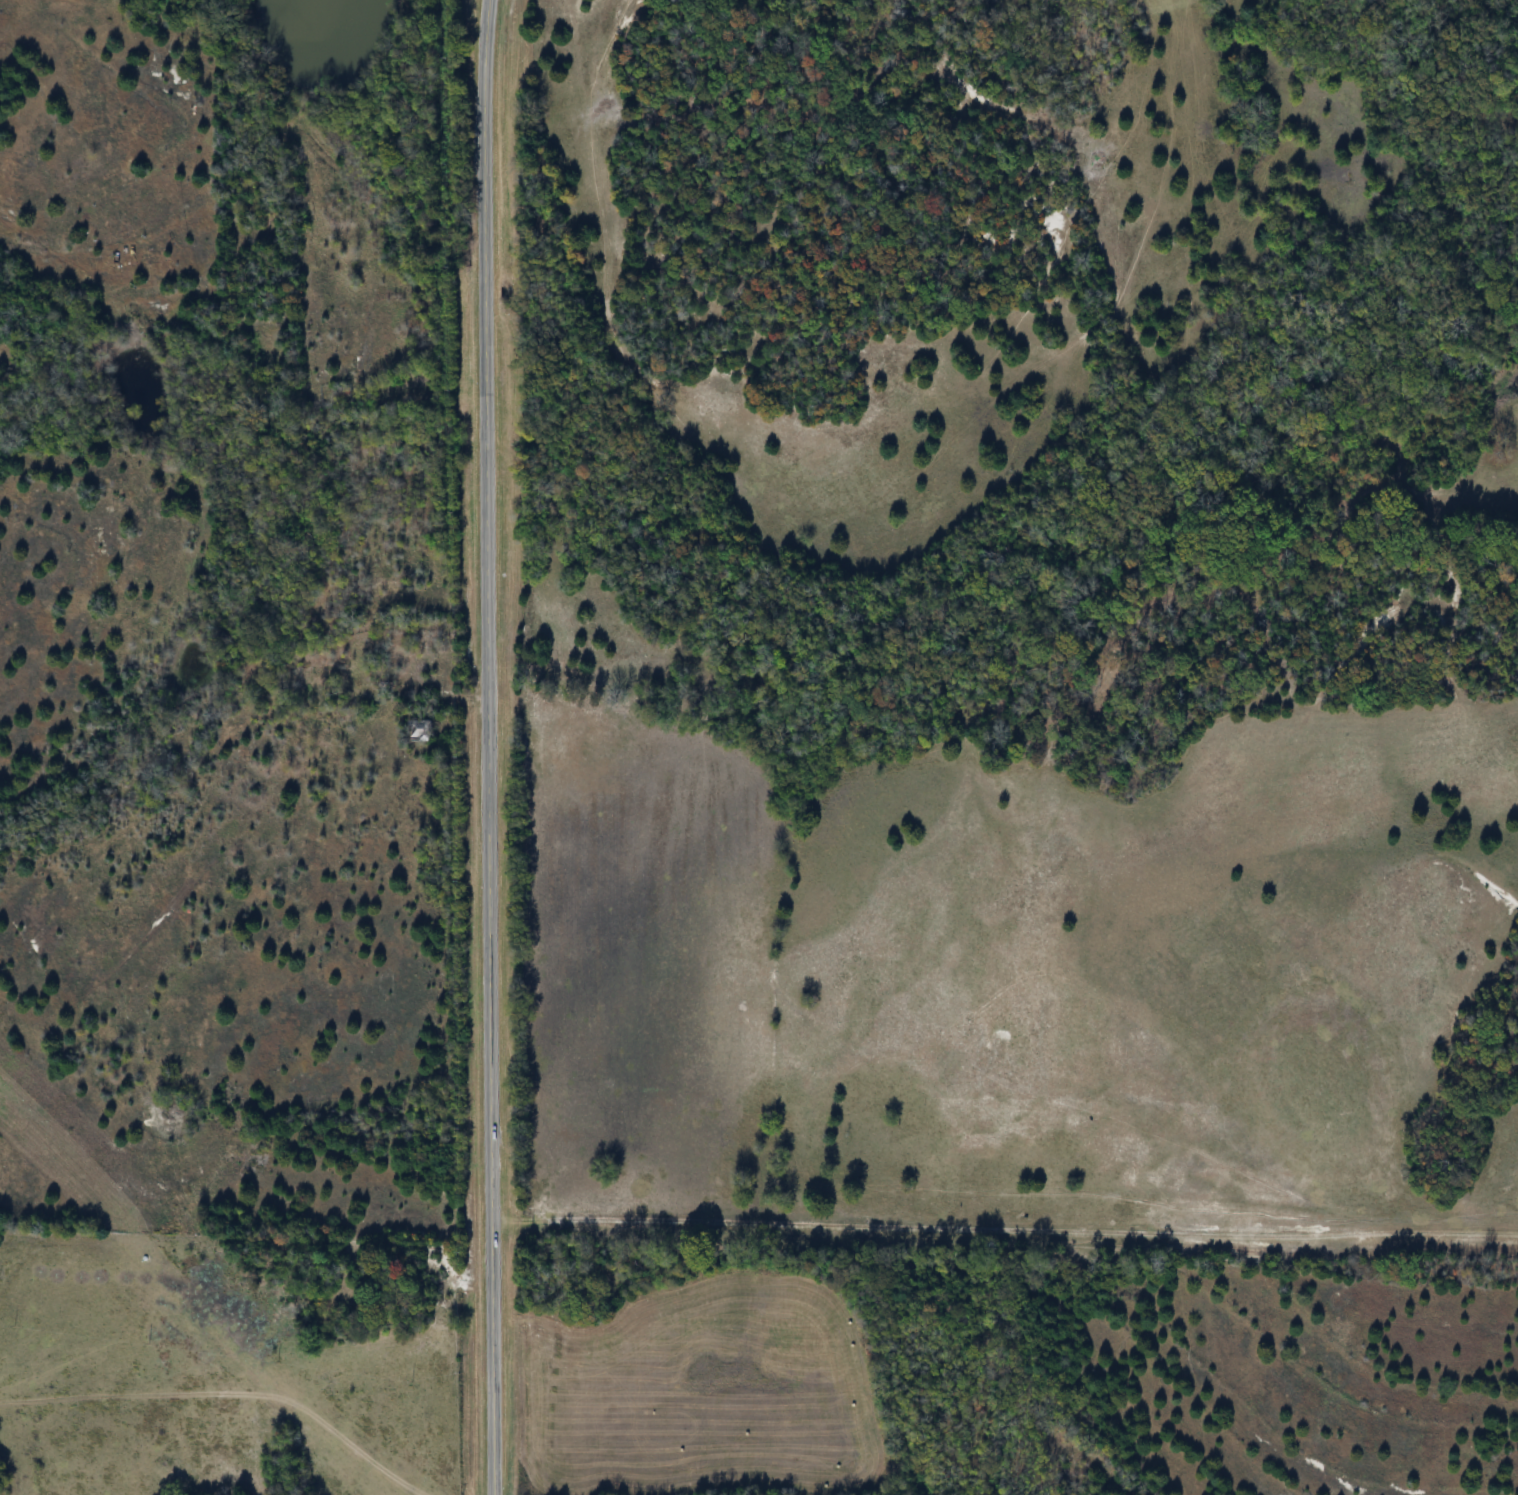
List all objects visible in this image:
building: (419, 732)
road: (492, 747)
road: (230, 1392)

